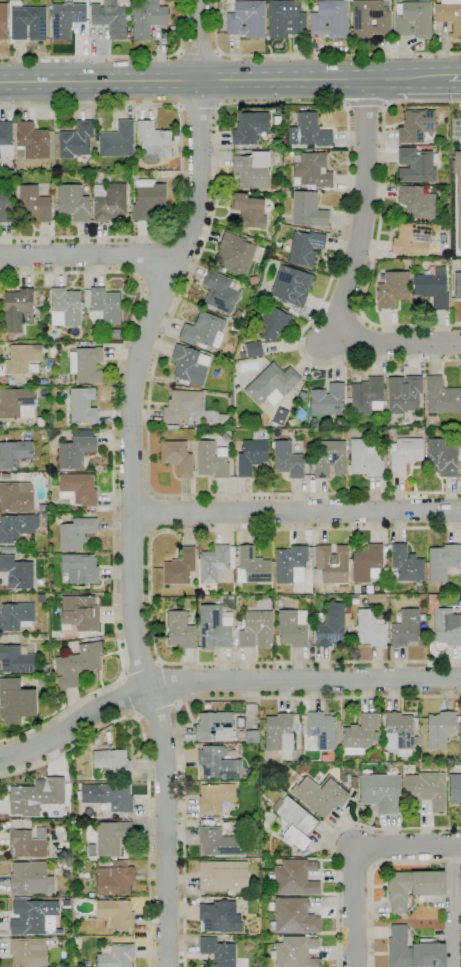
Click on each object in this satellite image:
building: (449, 15)
building: (148, 18)
building: (370, 18)
building: (66, 19)
building: (110, 19)
building: (246, 19)
building: (285, 19)
building: (330, 19)
building: (413, 19)
building: (3, 21)
building: (28, 23)
building: (174, 28)
road: (198, 52)
road: (313, 54)
road: (115, 57)
road: (454, 77)
road: (405, 78)
road: (180, 80)
road: (367, 105)
road: (199, 107)
building: (276, 118)
building: (416, 126)
building: (250, 128)
building: (309, 132)
building: (6, 139)
building: (76, 140)
building: (118, 140)
building: (31, 141)
building: (153, 141)
building: (415, 165)
road: (182, 166)
building: (251, 169)
building: (312, 169)
building: (136, 174)
building: (296, 181)
road: (216, 184)
building: (273, 184)
building: (297, 187)
building: (458, 190)
building: (285, 191)
building: (148, 199)
building: (109, 201)
building: (418, 201)
building: (73, 202)
building: (34, 204)
building: (5, 207)
building: (308, 210)
road: (362, 210)
building: (249, 211)
road: (379, 225)
building: (444, 227)
building: (241, 231)
building: (412, 239)
road: (184, 241)
building: (305, 248)
building: (234, 254)
road: (88, 256)
road: (136, 256)
building: (219, 269)
building: (457, 285)
building: (291, 286)
building: (433, 288)
building: (393, 289)
road: (161, 290)
building: (219, 292)
building: (106, 305)
building: (65, 307)
building: (18, 309)
building: (293, 312)
building: (272, 324)
building: (202, 330)
building: (113, 333)
building: (10, 337)
road: (398, 342)
building: (82, 344)
building: (254, 349)
building: (242, 355)
building: (259, 357)
building: (22, 358)
building: (86, 364)
building: (190, 366)
building: (272, 384)
building: (233, 388)
building: (404, 394)
building: (367, 396)
building: (441, 397)
building: (327, 400)
building: (16, 403)
building: (82, 406)
building: (181, 406)
building: (278, 417)
building: (324, 419)
building: (172, 427)
building: (286, 430)
building: (274, 433)
building: (76, 449)
building: (14, 454)
building: (405, 455)
building: (252, 456)
building: (177, 458)
building: (442, 458)
building: (330, 459)
building: (365, 459)
building: (211, 460)
building: (287, 460)
building: (460, 468)
road: (114, 474)
building: (5, 477)
building: (21, 477)
road: (130, 479)
road: (131, 484)
building: (77, 489)
building: (16, 497)
building: (76, 509)
building: (84, 510)
road: (296, 512)
road: (152, 513)
building: (44, 517)
building: (17, 528)
road: (133, 532)
building: (75, 534)
building: (7, 550)
building: (20, 557)
building: (40, 561)
building: (443, 561)
building: (366, 562)
building: (290, 563)
building: (216, 564)
building: (406, 564)
building: (331, 565)
building: (252, 567)
building: (80, 568)
building: (180, 568)
building: (17, 572)
building: (206, 588)
building: (199, 591)
road: (150, 593)
building: (225, 599)
building: (180, 603)
building: (287, 603)
building: (80, 613)
building: (16, 616)
building: (234, 620)
building: (347, 620)
building: (330, 626)
building: (447, 627)
building: (215, 628)
building: (292, 628)
building: (405, 628)
building: (369, 629)
building: (180, 630)
building: (257, 630)
building: (13, 638)
building: (72, 646)
building: (17, 658)
road: (141, 664)
building: (77, 665)
building: (52, 680)
building: (10, 681)
road: (222, 681)
road: (174, 684)
road: (129, 697)
road: (188, 700)
building: (17, 703)
building: (207, 705)
road: (157, 714)
building: (240, 723)
building: (214, 727)
building: (416, 727)
building: (400, 729)
building: (440, 729)
building: (322, 730)
building: (279, 734)
building: (359, 735)
building: (376, 736)
building: (95, 740)
building: (298, 747)
building: (375, 757)
building: (217, 763)
building: (110, 764)
road: (147, 766)
building: (454, 788)
building: (425, 790)
building: (380, 792)
building: (320, 795)
building: (36, 797)
building: (108, 797)
building: (215, 797)
building: (218, 817)
building: (294, 822)
road: (334, 836)
building: (110, 838)
building: (220, 843)
building: (26, 844)
road: (355, 857)
building: (68, 863)
road: (373, 874)
building: (222, 875)
building: (30, 878)
building: (114, 878)
building: (293, 878)
building: (413, 887)
building: (83, 891)
building: (265, 893)
building: (90, 895)
road: (451, 905)
building: (115, 913)
building: (33, 916)
building: (218, 916)
building: (293, 916)
building: (257, 924)
building: (76, 940)
building: (414, 950)
building: (28, 952)
building: (218, 952)
building: (294, 952)
building: (117, 956)

